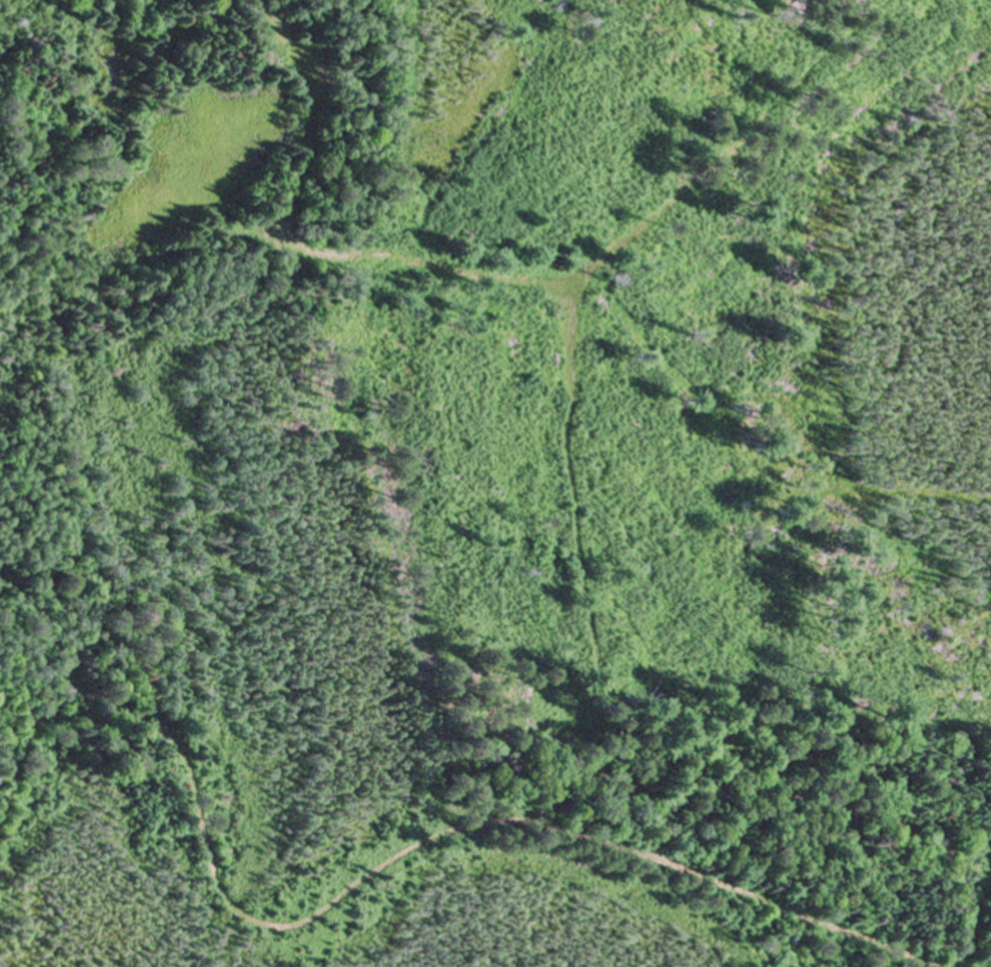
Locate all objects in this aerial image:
road: (411, 800)

